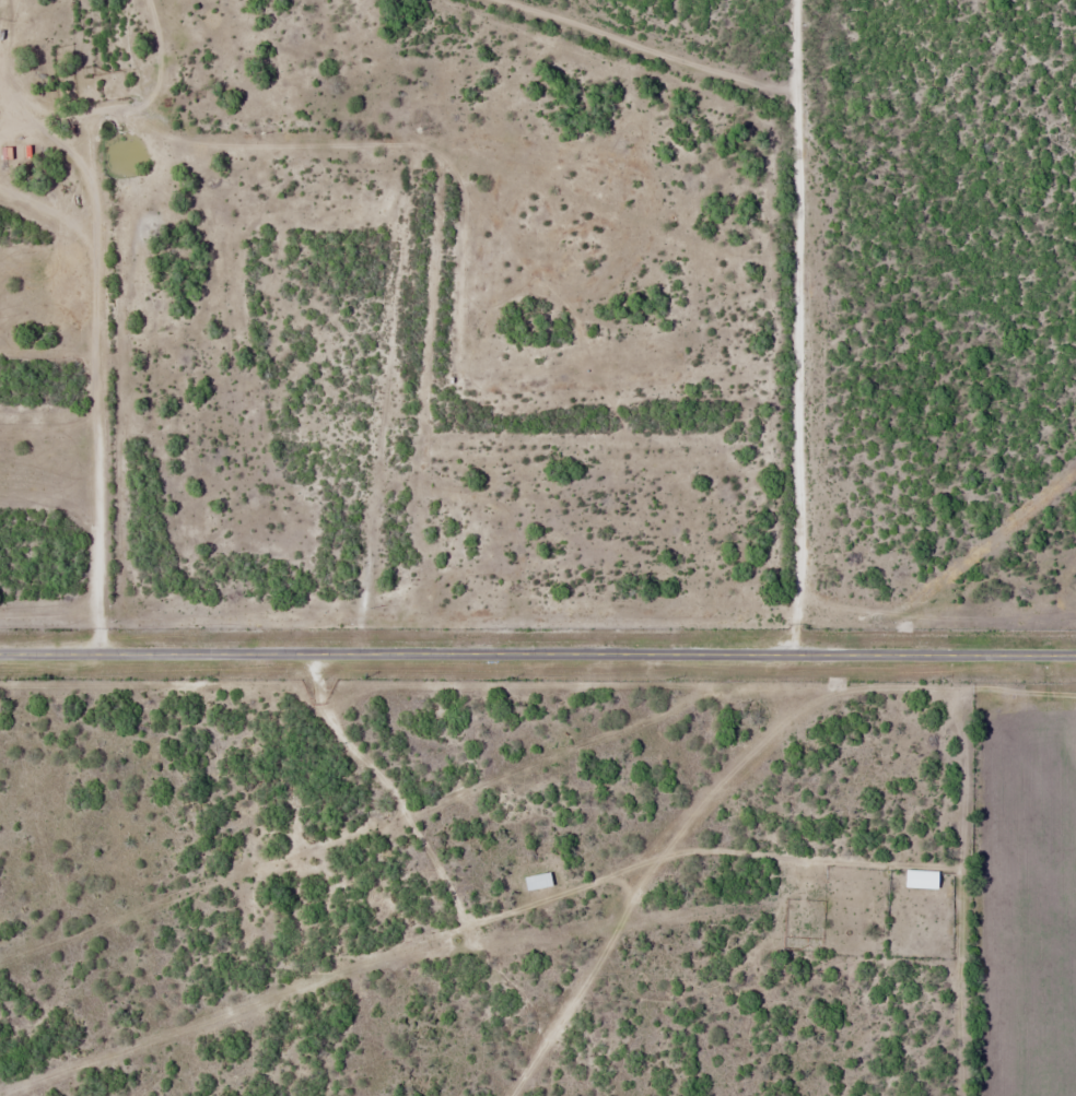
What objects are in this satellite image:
road: (792, 327)
road: (538, 653)
building: (919, 879)
building: (535, 881)

